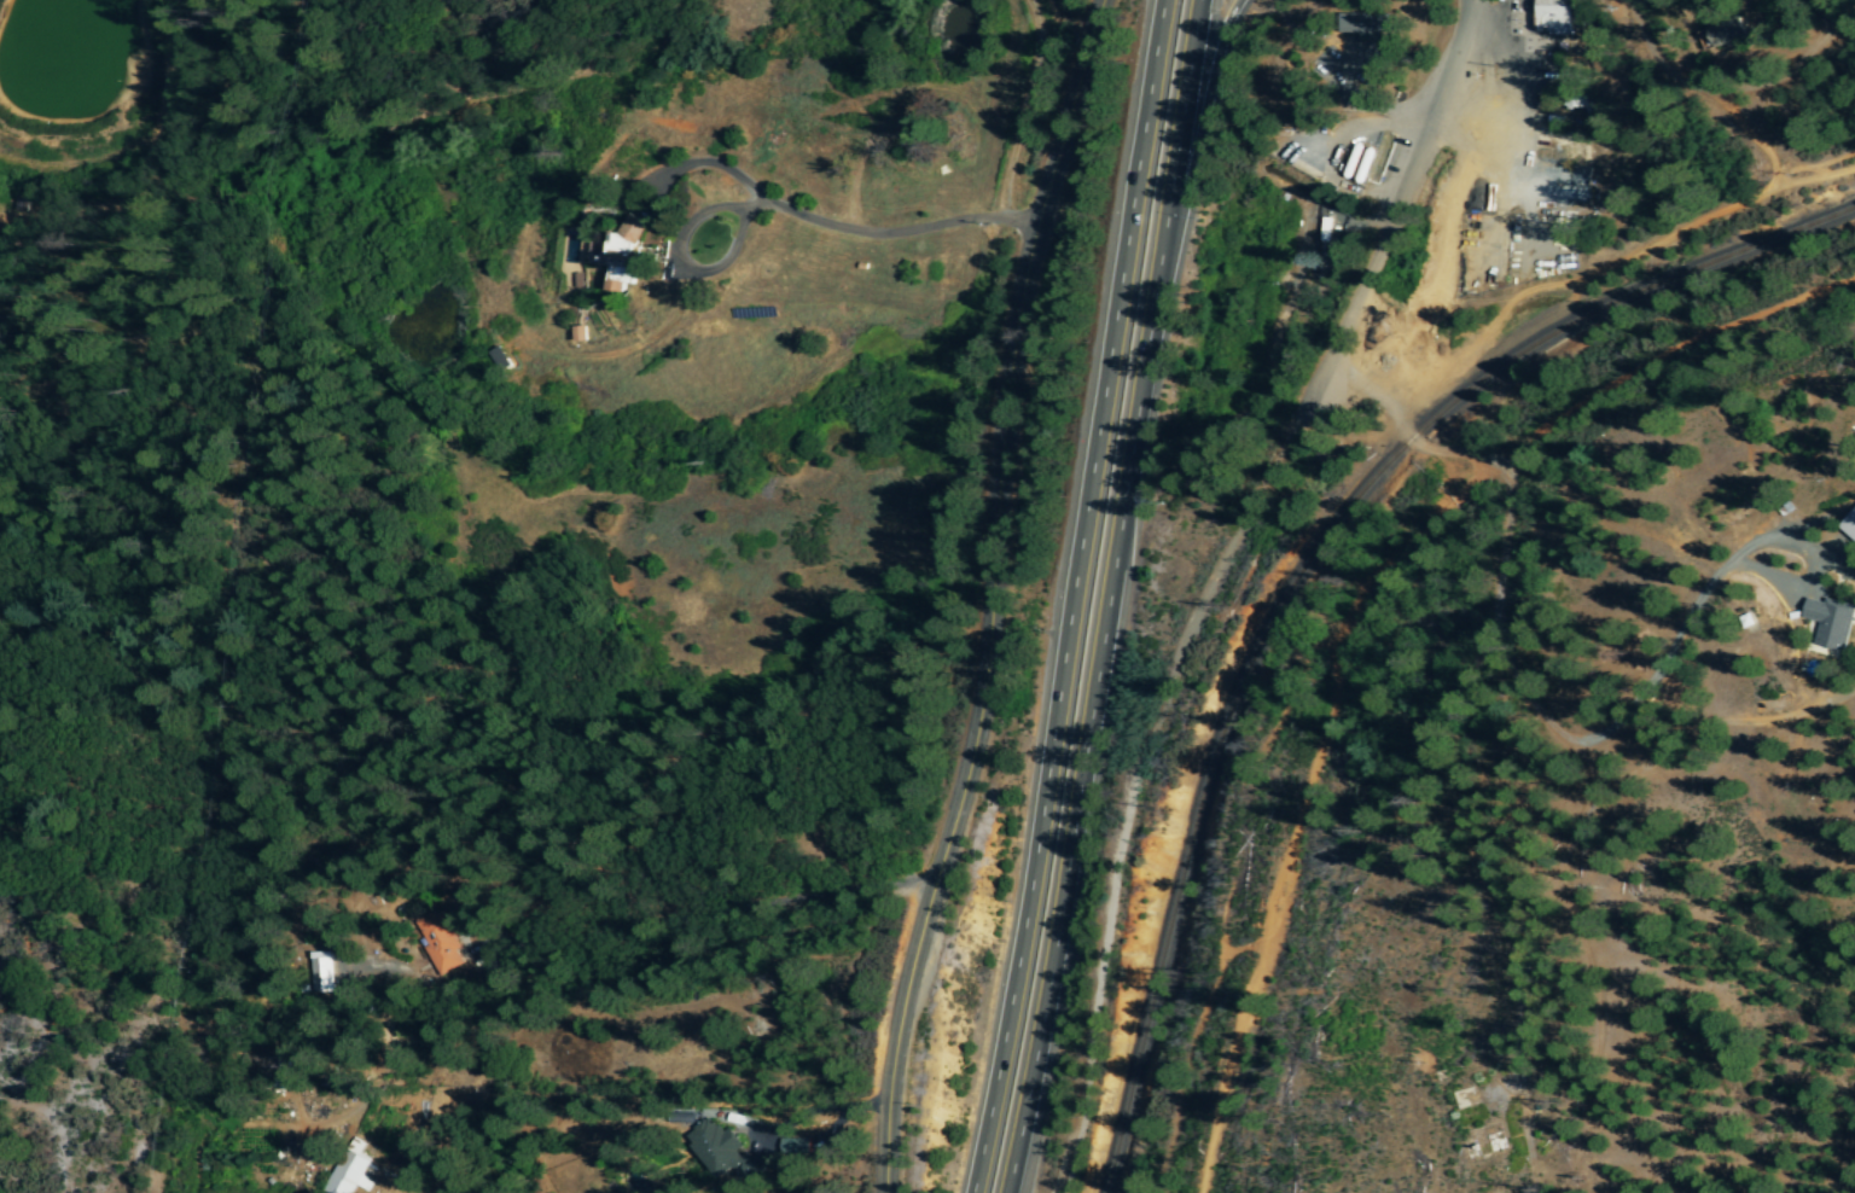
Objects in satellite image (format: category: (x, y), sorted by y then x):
road: (1828, 13)
building: (1551, 17)
road: (1844, 22)
building: (1727, 34)
building: (1365, 35)
road: (1725, 103)
road: (1200, 114)
road: (696, 165)
road: (1397, 196)
road: (779, 209)
road: (1727, 210)
building: (614, 252)
road: (1493, 314)
road: (1378, 353)
road: (1668, 353)
road: (1423, 452)
building: (1849, 525)
railway: (1312, 564)
road: (988, 595)
road: (1070, 596)
road: (1105, 596)
building: (1828, 622)
road: (1593, 739)
road: (1141, 773)
road: (1301, 799)
road: (681, 916)
building: (440, 942)
building: (319, 972)
road: (614, 982)
road: (818, 1107)
road: (783, 1147)
building: (791, 1150)
building: (350, 1171)

